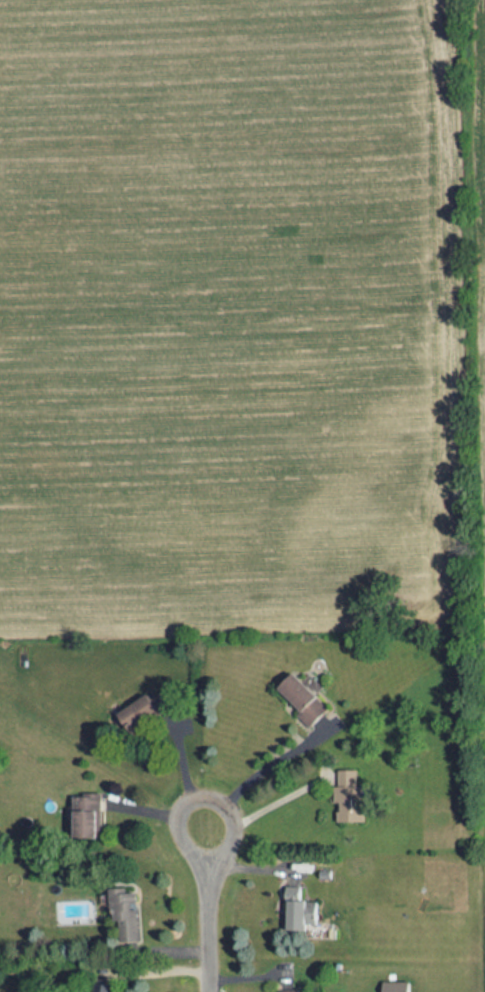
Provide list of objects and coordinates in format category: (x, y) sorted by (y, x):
building: (305, 699)
building: (140, 711)
road: (262, 771)
road: (186, 775)
building: (350, 794)
road: (157, 809)
road: (265, 809)
building: (88, 815)
building: (300, 909)
building: (124, 911)
road: (206, 911)
building: (396, 986)
building: (101, 987)
building: (289, 990)

